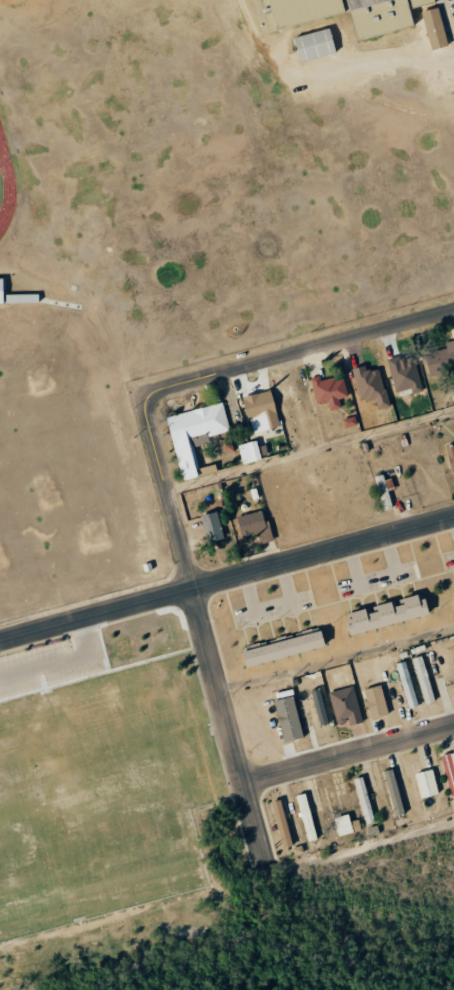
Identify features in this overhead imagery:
building: (338, 13)
building: (434, 28)
building: (315, 43)
track: (6, 182)
building: (1, 291)
road: (312, 350)
building: (440, 360)
building: (405, 374)
building: (370, 385)
building: (329, 391)
building: (261, 411)
road: (312, 449)
building: (184, 450)
building: (249, 451)
building: (451, 456)
building: (385, 491)
building: (212, 526)
road: (227, 581)
building: (453, 595)
building: (387, 614)
road: (205, 626)
building: (283, 648)
building: (423, 680)
building: (407, 684)
building: (376, 701)
building: (345, 705)
building: (319, 706)
building: (288, 719)
road: (350, 755)
park: (112, 770)
building: (449, 771)
building: (426, 783)
park: (83, 785)
building: (393, 792)
building: (364, 800)
building: (306, 817)
building: (281, 823)
building: (346, 825)
road: (361, 848)
park: (263, 927)
road: (278, 944)

